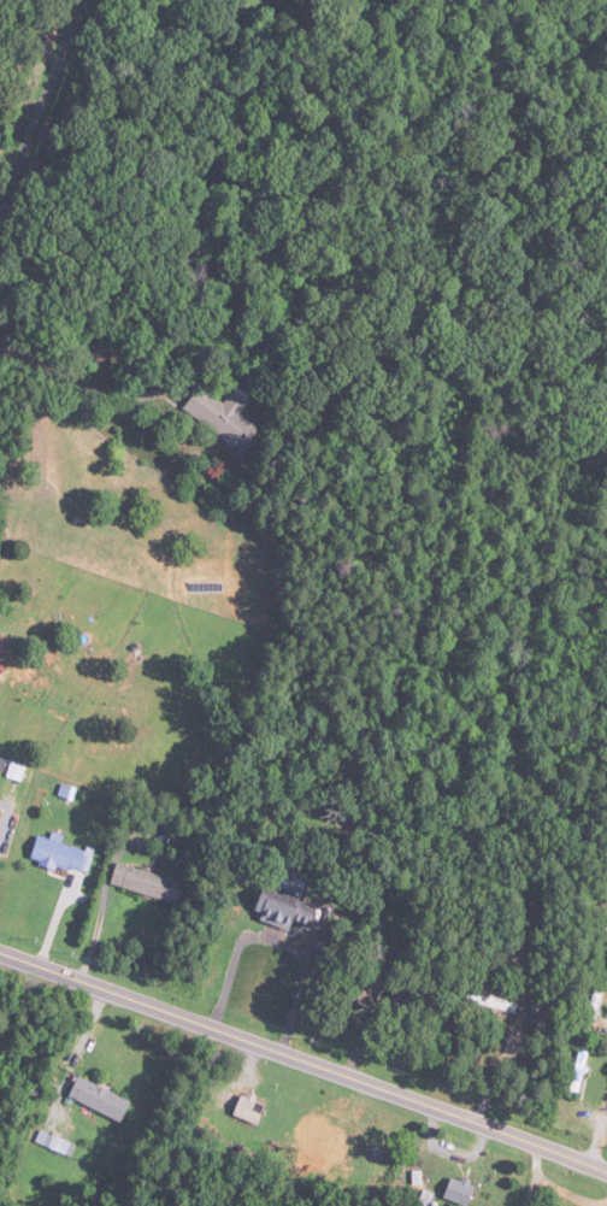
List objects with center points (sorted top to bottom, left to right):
road: (41, 107)
building: (105, 351)
building: (225, 417)
building: (60, 854)
building: (149, 883)
building: (289, 905)
road: (300, 988)
building: (412, 998)
road: (303, 1061)
building: (578, 1071)
building: (101, 1100)
building: (252, 1110)
road: (597, 1133)
building: (322, 1137)
building: (462, 1192)

